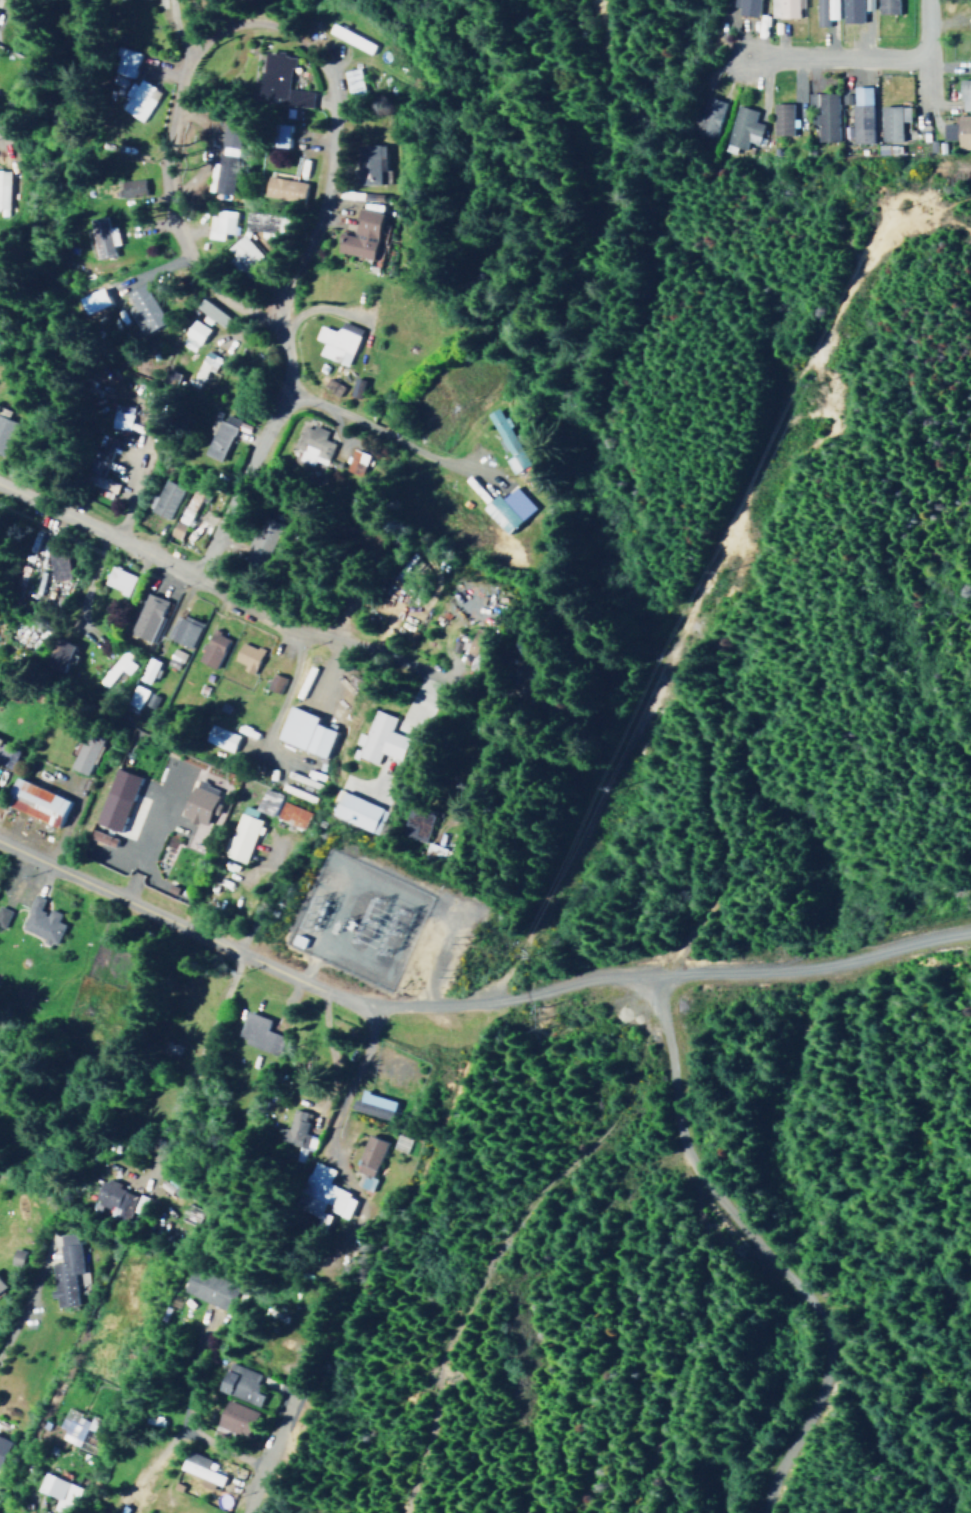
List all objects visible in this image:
building: (867, 4)
building: (885, 6)
building: (744, 7)
building: (783, 7)
building: (850, 10)
building: (824, 11)
building: (970, 50)
road: (918, 51)
road: (827, 53)
building: (122, 61)
building: (279, 79)
building: (351, 81)
building: (964, 94)
road: (166, 96)
building: (135, 98)
building: (822, 114)
building: (860, 114)
building: (706, 117)
building: (779, 118)
building: (890, 121)
building: (741, 127)
building: (958, 131)
building: (278, 135)
building: (227, 138)
building: (885, 149)
building: (367, 164)
building: (219, 173)
building: (283, 187)
building: (3, 188)
building: (219, 223)
building: (262, 223)
building: (360, 234)
building: (101, 237)
building: (241, 255)
building: (142, 309)
building: (194, 330)
building: (336, 341)
building: (202, 366)
building: (354, 387)
building: (117, 420)
road: (371, 426)
building: (5, 431)
building: (222, 435)
building: (506, 440)
building: (311, 445)
road: (249, 446)
building: (99, 467)
building: (164, 498)
building: (506, 509)
building: (175, 529)
building: (56, 566)
building: (117, 579)
road: (209, 581)
building: (145, 616)
building: (181, 630)
building: (210, 649)
building: (55, 655)
building: (245, 656)
building: (115, 667)
building: (147, 669)
road: (478, 680)
building: (272, 682)
building: (133, 698)
building: (414, 709)
building: (303, 732)
building: (219, 737)
building: (378, 739)
building: (0, 742)
building: (84, 751)
building: (2, 759)
building: (115, 799)
building: (266, 800)
building: (198, 801)
building: (34, 802)
building: (357, 812)
building: (288, 814)
building: (416, 824)
building: (100, 837)
building: (239, 837)
building: (433, 852)
building: (2, 914)
power substation: (355, 918)
building: (39, 921)
road: (255, 955)
road: (749, 970)
power tower: (447, 973)
power tower: (537, 1017)
building: (258, 1033)
road: (198, 1044)
road: (347, 1079)
building: (371, 1105)
building: (295, 1129)
building: (368, 1154)
building: (364, 1182)
building: (320, 1192)
building: (112, 1196)
building: (64, 1269)
building: (0, 1287)
building: (206, 1287)
road: (18, 1304)
building: (240, 1383)
building: (234, 1417)
road: (278, 1421)
building: (2, 1446)
building: (200, 1469)
building: (57, 1491)

